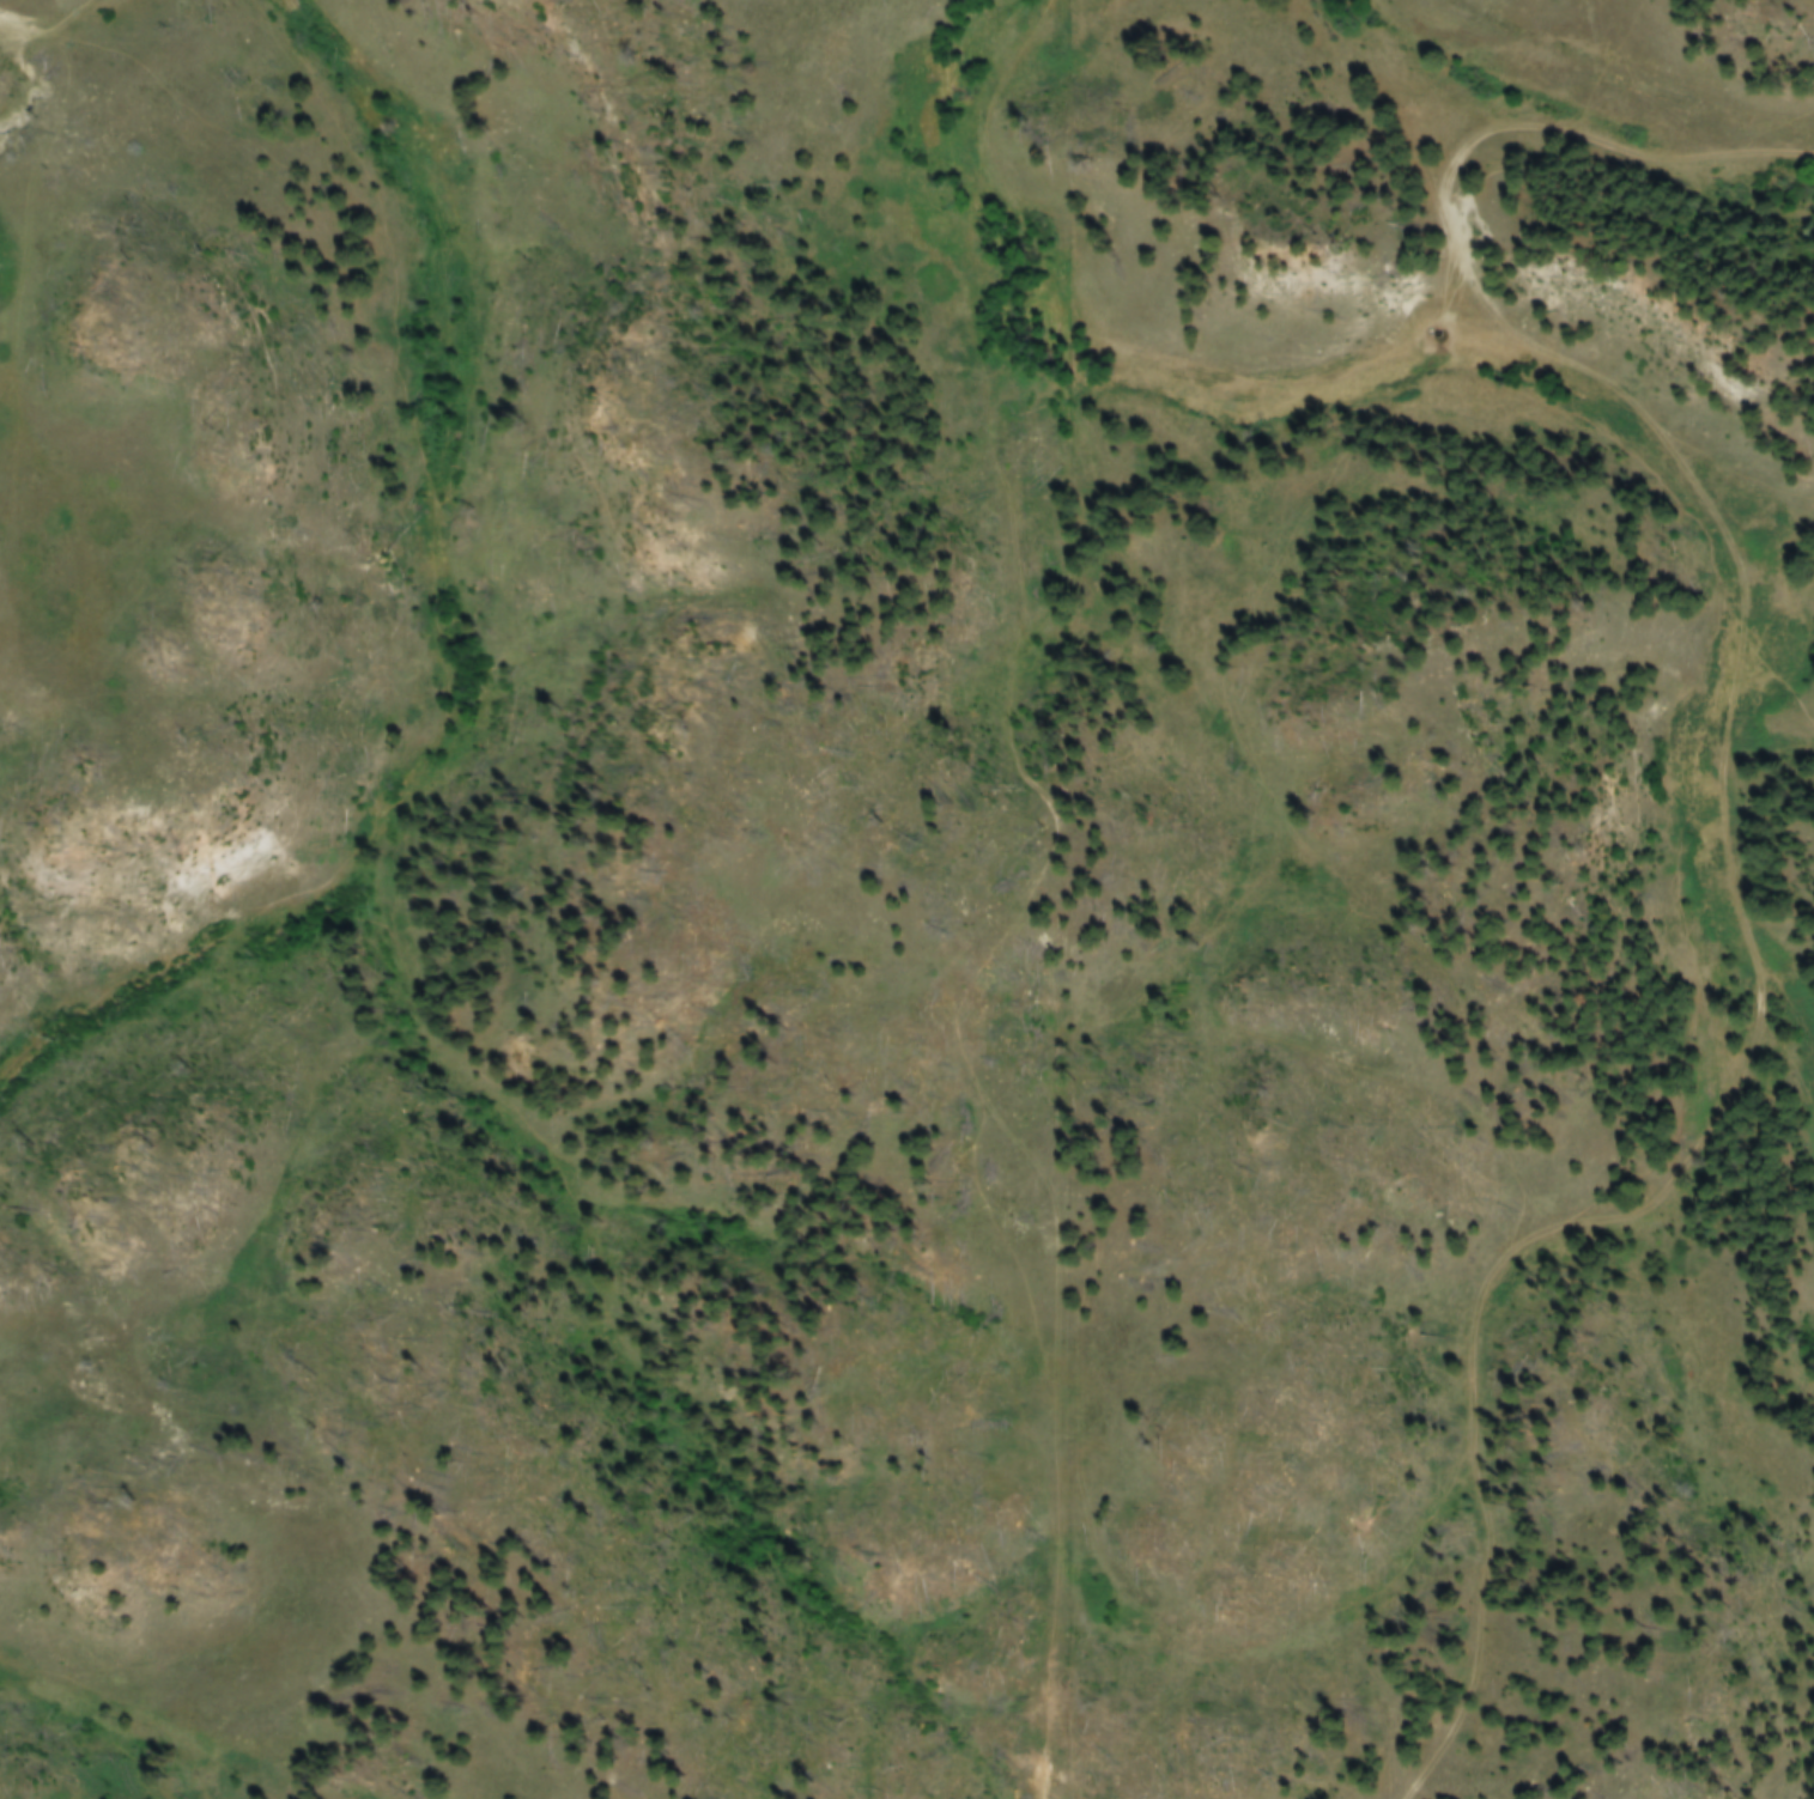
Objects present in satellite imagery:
road: (1430, 1762)

